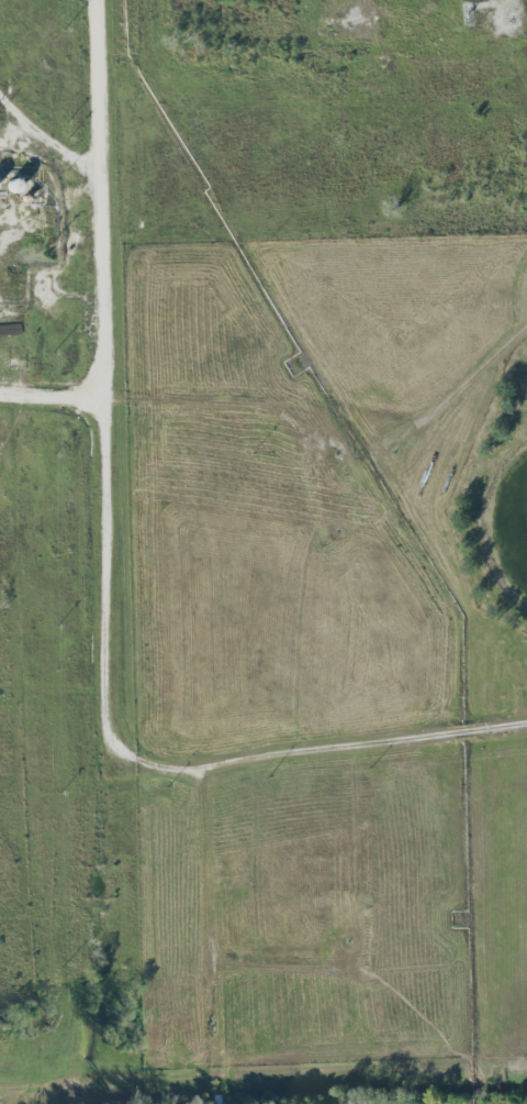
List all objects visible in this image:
road: (103, 199)
road: (52, 395)
road: (216, 401)
road: (147, 761)
road: (212, 926)

